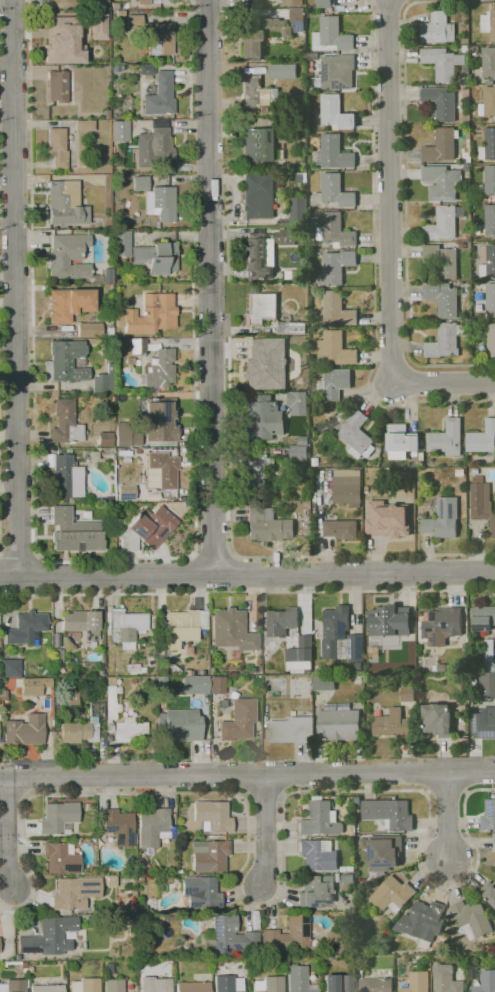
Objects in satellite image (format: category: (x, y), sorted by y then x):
building: (152, 1)
building: (293, 3)
building: (325, 3)
building: (114, 5)
building: (120, 12)
building: (298, 19)
building: (134, 22)
building: (489, 23)
building: (98, 26)
building: (438, 29)
building: (260, 35)
building: (331, 36)
building: (159, 38)
building: (62, 40)
building: (475, 48)
building: (465, 49)
road: (191, 58)
building: (489, 62)
building: (443, 63)
building: (115, 68)
building: (147, 69)
building: (286, 70)
building: (338, 72)
building: (466, 80)
building: (490, 82)
building: (58, 86)
building: (259, 93)
building: (161, 95)
building: (488, 102)
building: (440, 103)
building: (106, 113)
building: (334, 113)
building: (281, 123)
building: (85, 125)
building: (120, 131)
building: (154, 144)
building: (261, 145)
building: (442, 145)
building: (488, 145)
building: (58, 147)
building: (334, 153)
building: (467, 166)
building: (489, 181)
building: (442, 182)
building: (140, 183)
road: (7, 184)
road: (406, 185)
road: (390, 191)
building: (335, 192)
building: (253, 198)
road: (236, 199)
building: (161, 203)
building: (66, 204)
building: (298, 211)
building: (490, 220)
building: (444, 223)
road: (7, 224)
building: (335, 231)
building: (284, 236)
building: (122, 243)
building: (462, 246)
building: (259, 256)
building: (156, 257)
building: (70, 258)
building: (442, 260)
road: (374, 261)
building: (488, 263)
building: (338, 266)
road: (211, 287)
road: (15, 288)
building: (443, 298)
building: (491, 298)
road: (7, 302)
building: (69, 304)
building: (261, 307)
building: (337, 309)
building: (152, 313)
building: (292, 327)
building: (89, 330)
building: (110, 332)
building: (491, 339)
building: (445, 340)
building: (138, 346)
building: (335, 349)
building: (67, 360)
building: (130, 360)
building: (265, 363)
building: (161, 369)
building: (104, 381)
road: (443, 382)
building: (334, 384)
building: (298, 402)
building: (264, 418)
building: (161, 420)
building: (66, 422)
building: (357, 435)
building: (126, 436)
building: (482, 438)
building: (446, 439)
building: (105, 440)
building: (303, 440)
building: (401, 441)
building: (299, 452)
building: (108, 453)
building: (422, 456)
building: (420, 464)
building: (164, 469)
building: (259, 471)
building: (460, 472)
building: (67, 477)
building: (347, 489)
road: (37, 490)
building: (127, 492)
road: (231, 496)
building: (108, 499)
building: (481, 502)
road: (0, 506)
building: (110, 506)
building: (443, 518)
building: (385, 519)
building: (267, 526)
building: (341, 529)
building: (147, 530)
building: (74, 532)
road: (215, 552)
road: (18, 554)
road: (247, 573)
road: (232, 574)
road: (36, 576)
road: (187, 576)
road: (2, 581)
road: (247, 593)
building: (483, 618)
building: (281, 621)
building: (389, 621)
building: (83, 623)
building: (442, 625)
building: (184, 626)
building: (26, 627)
building: (227, 627)
building: (126, 628)
building: (340, 636)
building: (247, 641)
building: (300, 654)
building: (489, 655)
building: (10, 668)
building: (135, 668)
building: (173, 668)
building: (55, 672)
building: (186, 672)
building: (255, 682)
building: (324, 683)
building: (487, 683)
building: (195, 684)
building: (217, 685)
building: (33, 686)
building: (408, 694)
building: (71, 698)
building: (111, 703)
building: (222, 703)
building: (238, 720)
building: (438, 720)
building: (338, 722)
building: (484, 723)
building: (391, 724)
building: (183, 725)
building: (83, 726)
building: (27, 728)
building: (291, 729)
building: (130, 730)
road: (247, 774)
building: (344, 802)
building: (387, 813)
road: (447, 814)
building: (488, 815)
building: (212, 816)
building: (58, 818)
building: (321, 819)
building: (116, 826)
building: (154, 829)
road: (265, 829)
road: (7, 835)
building: (494, 842)
building: (384, 852)
building: (210, 855)
building: (318, 855)
building: (61, 858)
building: (347, 869)
building: (93, 870)
building: (348, 877)
building: (140, 879)
building: (317, 890)
building: (201, 892)
building: (489, 892)
building: (75, 893)
building: (392, 894)
road: (275, 903)
building: (140, 906)
building: (472, 918)
building: (131, 919)
building: (424, 920)
building: (132, 932)
building: (69, 935)
building: (50, 936)
building: (286, 936)
building: (229, 937)
building: (24, 967)
building: (30, 969)
building: (446, 979)
building: (299, 980)
building: (417, 982)
building: (486, 982)
building: (340, 983)
building: (228, 984)
building: (269, 984)
building: (85, 985)
building: (155, 985)
building: (376, 985)
building: (13, 986)
building: (114, 986)
building: (193, 987)
building: (47, 988)

